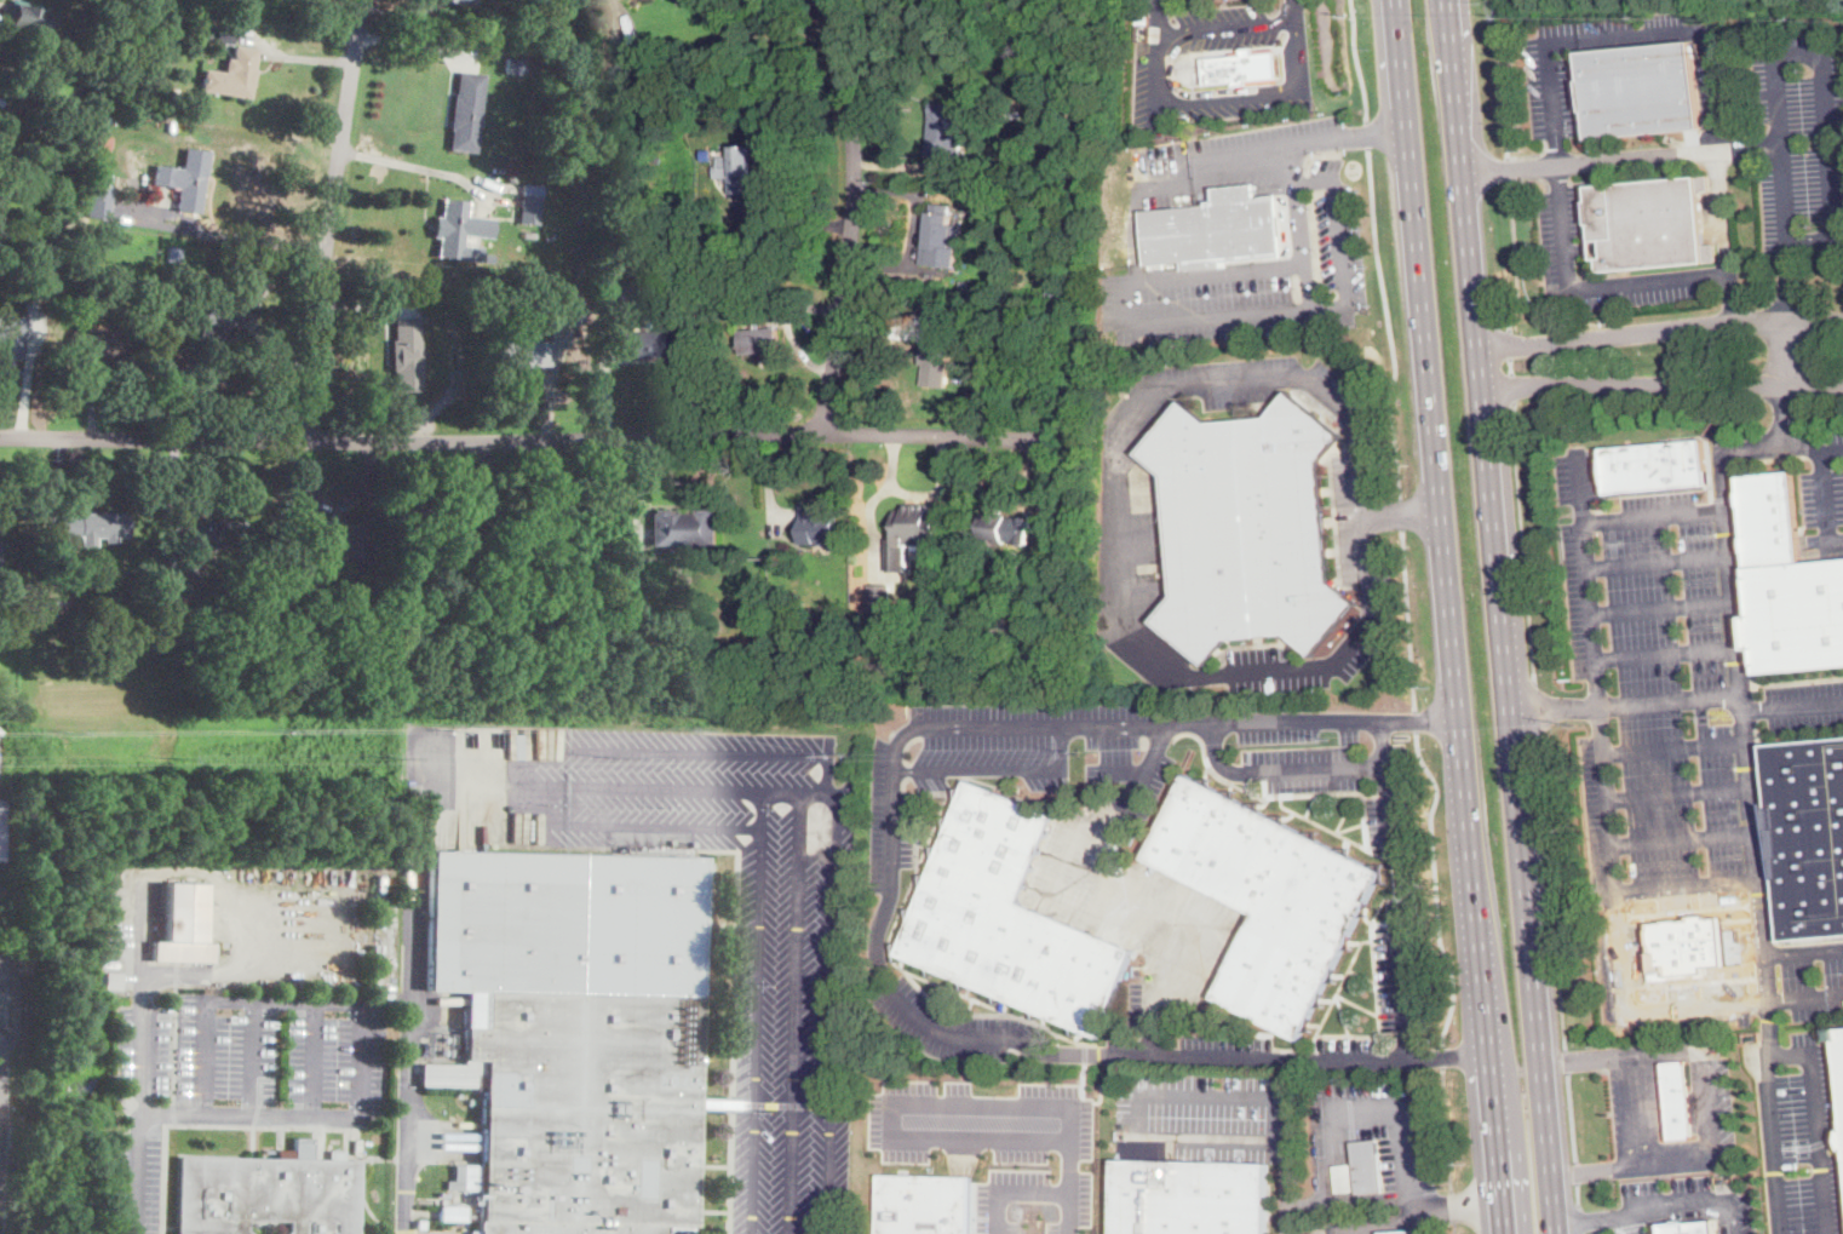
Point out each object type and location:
building: (220, 1)
building: (463, 1)
building: (98, 8)
building: (27, 18)
building: (595, 19)
building: (1142, 19)
road: (1230, 23)
parking lot: (1228, 25)
building: (553, 29)
building: (85, 34)
building: (224, 34)
road: (1631, 38)
road: (413, 41)
road: (1819, 56)
building: (150, 59)
road: (1357, 61)
building: (515, 65)
parking lot: (1139, 65)
building: (633, 67)
building: (1242, 69)
building: (234, 74)
road: (1500, 76)
building: (1641, 91)
road: (1200, 92)
road: (1223, 97)
parking lot: (1551, 98)
building: (184, 104)
building: (466, 113)
building: (103, 119)
building: (114, 119)
building: (947, 131)
road: (1376, 132)
road: (1367, 134)
parking lot: (1799, 139)
building: (101, 147)
road: (1747, 150)
road: (1673, 154)
parking lot: (1229, 159)
road: (415, 165)
road: (1506, 165)
building: (739, 168)
road: (1167, 171)
building: (185, 180)
building: (513, 180)
building: (99, 196)
building: (530, 203)
road: (851, 216)
road: (329, 218)
road: (793, 220)
building: (1650, 220)
building: (459, 230)
road: (913, 230)
building: (1216, 230)
road: (228, 233)
building: (529, 233)
building: (57, 237)
building: (941, 239)
building: (39, 245)
parking lot: (1557, 248)
road: (1514, 252)
building: (174, 254)
building: (30, 257)
building: (488, 257)
building: (17, 263)
building: (58, 279)
parking lot: (1252, 279)
building: (172, 283)
road: (1586, 283)
road: (1305, 288)
building: (1056, 289)
building: (22, 298)
building: (545, 300)
road: (253, 304)
road: (1124, 311)
building: (562, 317)
building: (575, 317)
road: (1388, 323)
building: (218, 328)
road: (1661, 329)
building: (762, 339)
building: (99, 343)
building: (650, 344)
road: (1785, 344)
building: (10, 348)
building: (523, 354)
building: (407, 355)
road: (28, 356)
building: (460, 357)
building: (937, 358)
road: (1509, 363)
building: (452, 378)
building: (465, 379)
parking lot: (1259, 383)
road: (1663, 385)
road: (524, 438)
road: (1742, 447)
road: (1832, 447)
building: (1657, 467)
road: (1359, 473)
road: (1577, 484)
parking lot: (1825, 492)
road: (1826, 499)
road: (1399, 512)
road: (1401, 516)
parking lot: (1361, 517)
building: (432, 523)
building: (94, 527)
building: (820, 527)
building: (1003, 528)
building: (1248, 528)
building: (684, 529)
building: (912, 532)
building: (209, 534)
building: (340, 540)
road: (1522, 540)
building: (498, 555)
road: (1658, 559)
building: (496, 568)
building: (1070, 578)
road: (1130, 579)
building: (1787, 585)
building: (315, 586)
parking lot: (1649, 586)
road: (1546, 587)
building: (235, 596)
building: (879, 596)
building: (182, 597)
road: (1661, 604)
building: (61, 609)
road: (1445, 616)
road: (1504, 616)
road: (1409, 621)
building: (155, 647)
building: (695, 650)
road: (1665, 650)
parking lot: (1301, 661)
road: (1740, 693)
road: (1719, 699)
road: (1554, 705)
road: (1537, 706)
power tower: (1718, 714)
road: (1418, 719)
road: (1417, 721)
power tower: (1574, 724)
power tower: (1328, 736)
road: (1383, 740)
road: (1672, 742)
parking lot: (1037, 745)
parking lot: (1297, 746)
power tower: (1078, 750)
power tower: (836, 754)
power tower: (178, 757)
power tower: (398, 757)
power tower: (615, 757)
road: (1147, 764)
road: (1000, 767)
road: (1126, 767)
parking lot: (1683, 779)
road: (673, 785)
road: (1676, 788)
building: (407, 807)
parking lot: (888, 807)
parking lot: (1389, 819)
building: (0, 820)
road: (654, 823)
building: (1805, 836)
road: (1681, 838)
road: (836, 861)
parking lot: (1078, 861)
road: (1436, 888)
road: (1549, 889)
building: (1268, 899)
road: (1064, 903)
parking lot: (737, 920)
building: (1007, 920)
building: (182, 924)
building: (1683, 936)
road: (1183, 941)
road: (1584, 948)
road: (1767, 949)
parking lot: (1400, 969)
parking lot: (1813, 977)
park: (4, 985)
road: (409, 997)
road: (1768, 1001)
road: (1669, 1009)
road: (757, 1010)
road: (794, 1011)
parking lot: (948, 1023)
road: (364, 1028)
building: (573, 1035)
road: (1028, 1046)
parking lot: (1275, 1051)
road: (1083, 1052)
road: (252, 1054)
road: (1446, 1054)
road: (314, 1055)
parking lot: (253, 1056)
road: (1587, 1056)
road: (1443, 1058)
road: (1566, 1058)
building: (1838, 1073)
road: (1081, 1085)
road: (1213, 1097)
building: (1678, 1100)
building: (722, 1102)
road: (1076, 1102)
road: (1707, 1103)
road: (140, 1104)
road: (894, 1104)
parking lot: (1635, 1106)
parking lot: (1703, 1107)
road: (1637, 1108)
parking lot: (1204, 1115)
road: (1571, 1117)
road: (1814, 1123)
road: (1405, 1125)
parking lot: (1797, 1127)
road: (1448, 1131)
road: (1772, 1143)
parking lot: (999, 1146)
road: (1286, 1166)
building: (1366, 1169)
road: (1598, 1169)
road: (1575, 1172)
building: (1343, 1177)
parking lot: (136, 1178)
road: (1070, 1187)
road: (1011, 1190)
building: (268, 1193)
road: (1577, 1193)
road: (1700, 1195)
building: (1190, 1198)
building: (470, 1201)
parking lot: (1687, 1201)
building: (925, 1204)
road: (1453, 1210)
road: (1690, 1210)
road: (1414, 1213)
road: (1595, 1217)
road: (1578, 1218)
road: (1430, 1223)
road: (1632, 1223)
building: (420, 1226)
road: (1631, 1226)
building: (266, 1227)
parking lot: (1632, 1227)
building: (1694, 1227)
road: (1456, 1229)
road: (1606, 1229)
building: (1400, 1232)
parking lot: (447, 1233)
parking lot: (1654, 1233)

